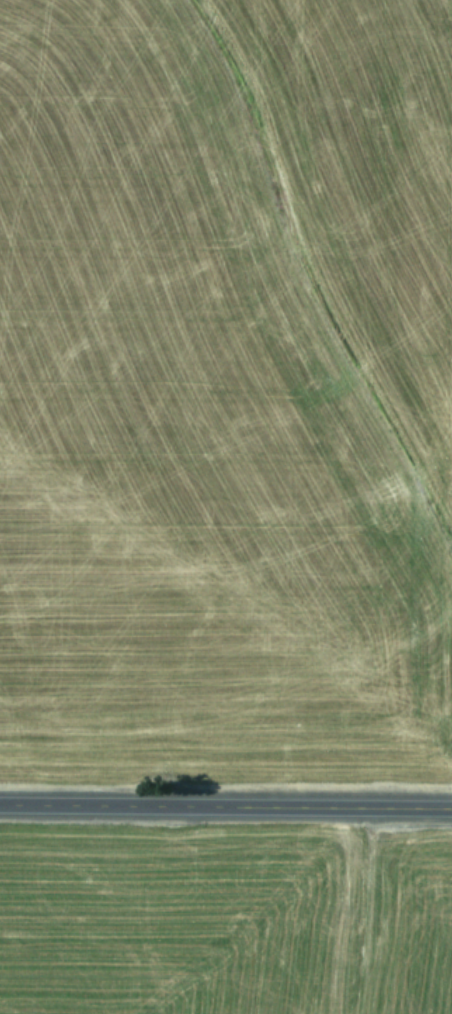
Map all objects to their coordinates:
crop: (225, 385)
road: (226, 805)
crop: (225, 919)

